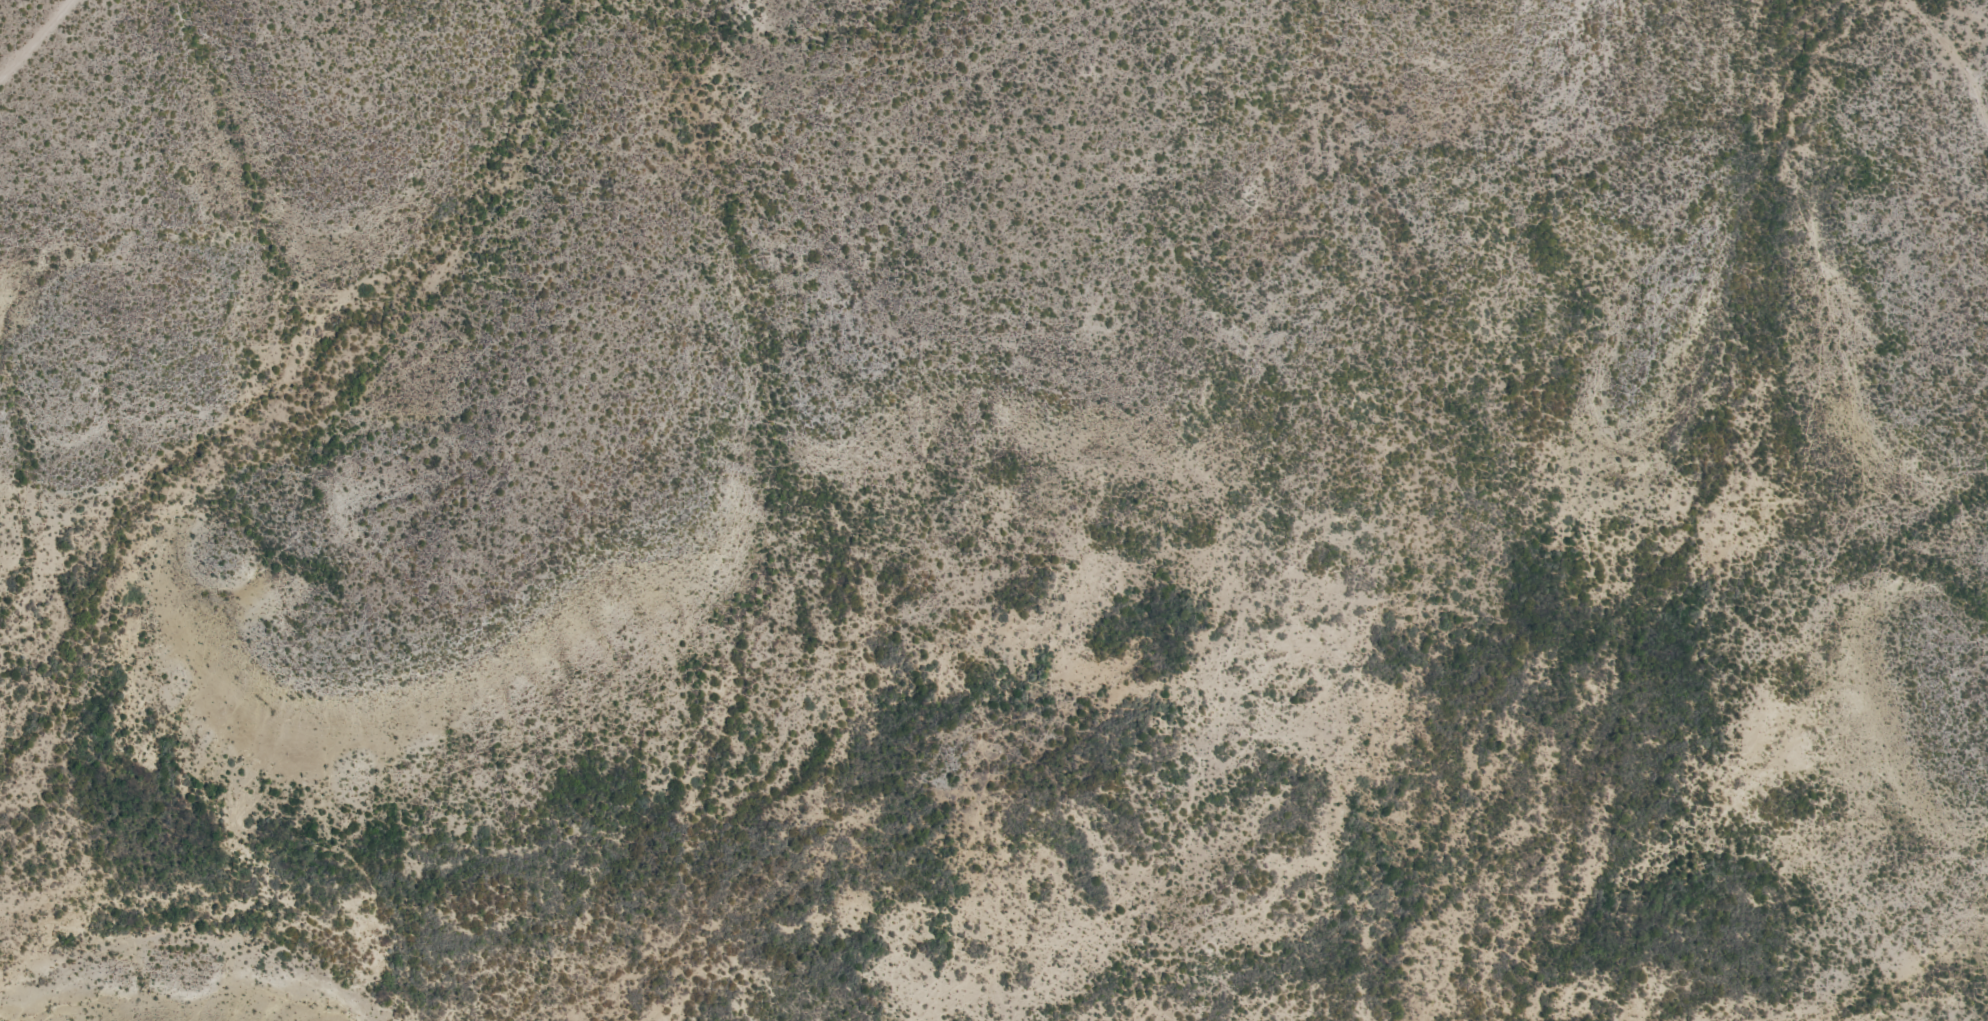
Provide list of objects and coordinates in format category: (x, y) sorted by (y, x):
road: (34, 38)
road: (1954, 56)

